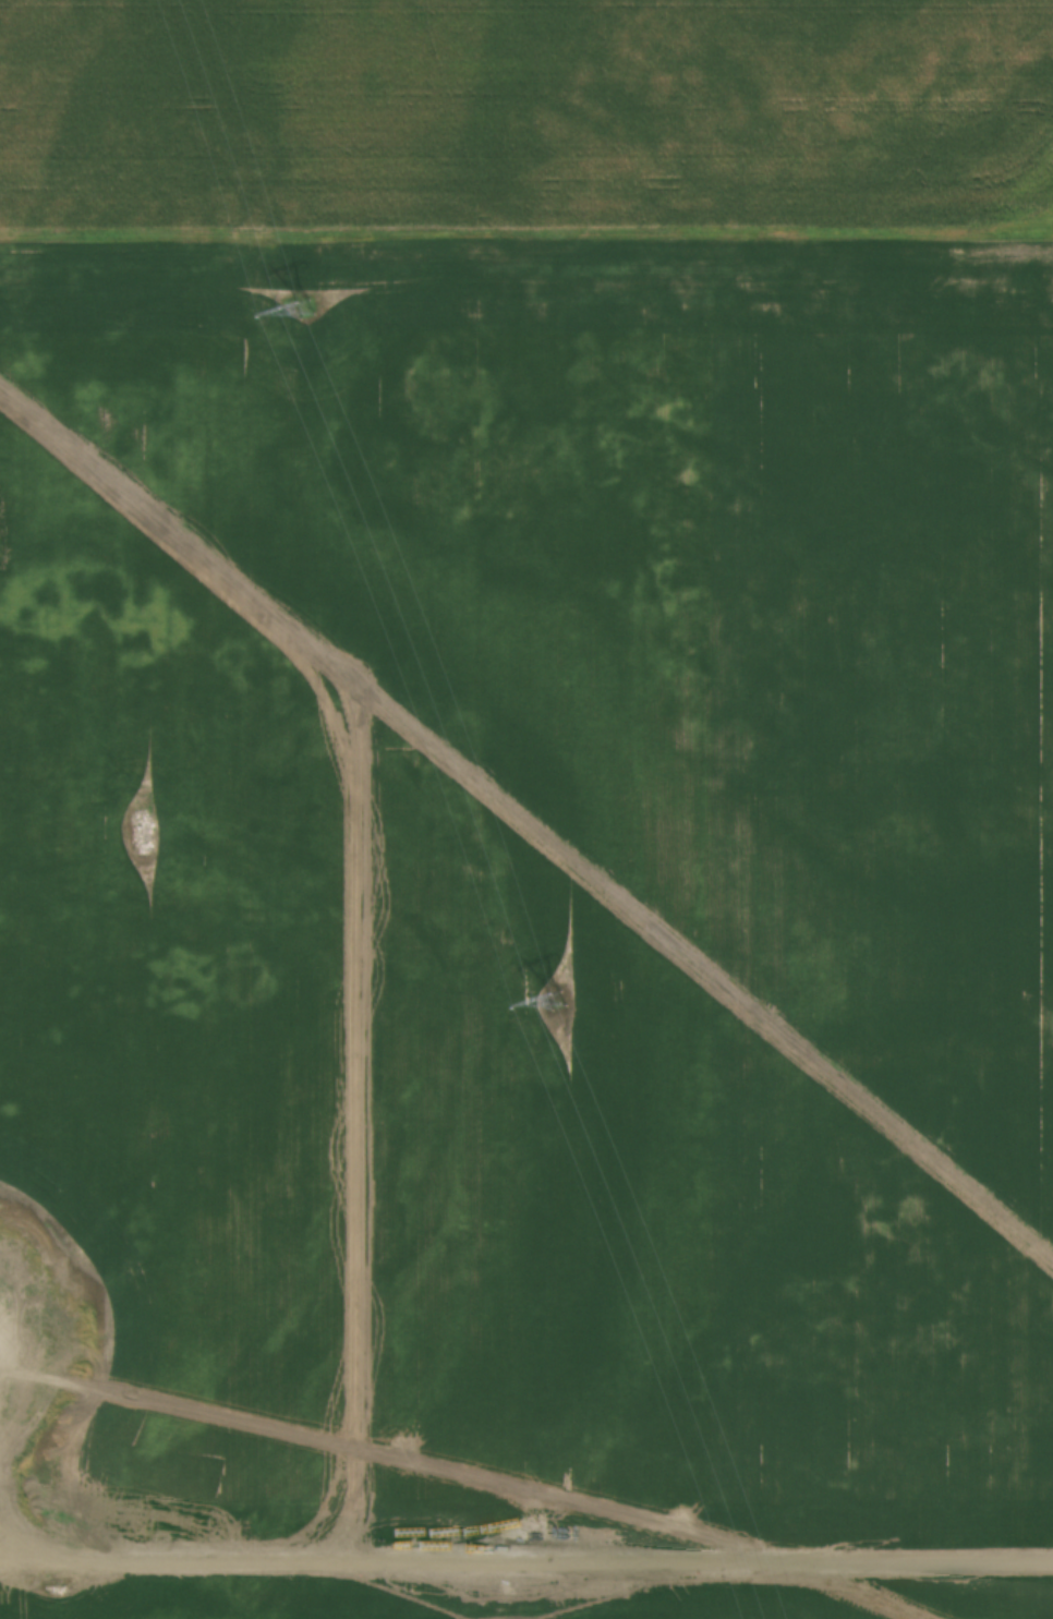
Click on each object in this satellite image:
power tower: (306, 312)
power tower: (556, 1003)

